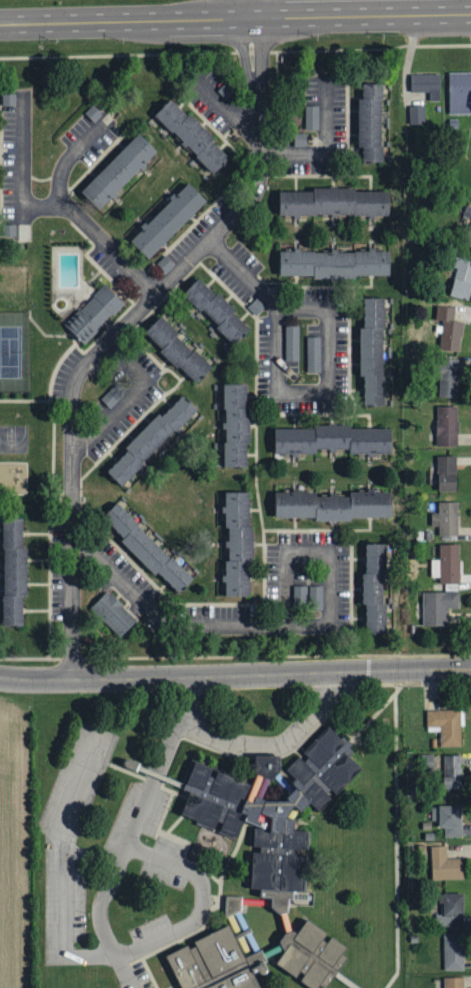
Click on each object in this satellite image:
road: (443, 7)
road: (256, 9)
road: (363, 15)
road: (128, 20)
building: (426, 84)
building: (225, 88)
building: (459, 93)
road: (222, 106)
building: (93, 111)
building: (416, 114)
building: (310, 115)
building: (370, 120)
building: (192, 133)
building: (299, 137)
road: (327, 148)
road: (71, 155)
road: (22, 168)
building: (118, 168)
building: (333, 201)
building: (168, 219)
building: (8, 229)
building: (466, 230)
road: (109, 248)
building: (333, 261)
building: (164, 262)
building: (462, 279)
building: (255, 304)
building: (214, 309)
building: (92, 313)
road: (120, 330)
building: (446, 330)
building: (292, 343)
building: (176, 348)
building: (372, 350)
park: (10, 352)
building: (313, 352)
building: (447, 378)
building: (113, 394)
road: (279, 394)
road: (130, 398)
building: (234, 424)
building: (446, 426)
park: (13, 437)
building: (150, 437)
building: (331, 437)
building: (446, 474)
building: (332, 503)
building: (446, 519)
building: (56, 522)
building: (237, 540)
building: (99, 541)
building: (146, 547)
building: (446, 565)
building: (13, 570)
building: (374, 588)
building: (307, 596)
building: (437, 607)
building: (113, 611)
road: (283, 626)
road: (271, 674)
road: (35, 679)
road: (189, 697)
building: (445, 726)
road: (275, 739)
building: (451, 771)
building: (448, 818)
road: (122, 852)
road: (61, 864)
building: (445, 864)
building: (264, 868)
road: (200, 900)
building: (451, 908)
building: (453, 951)
building: (453, 982)

